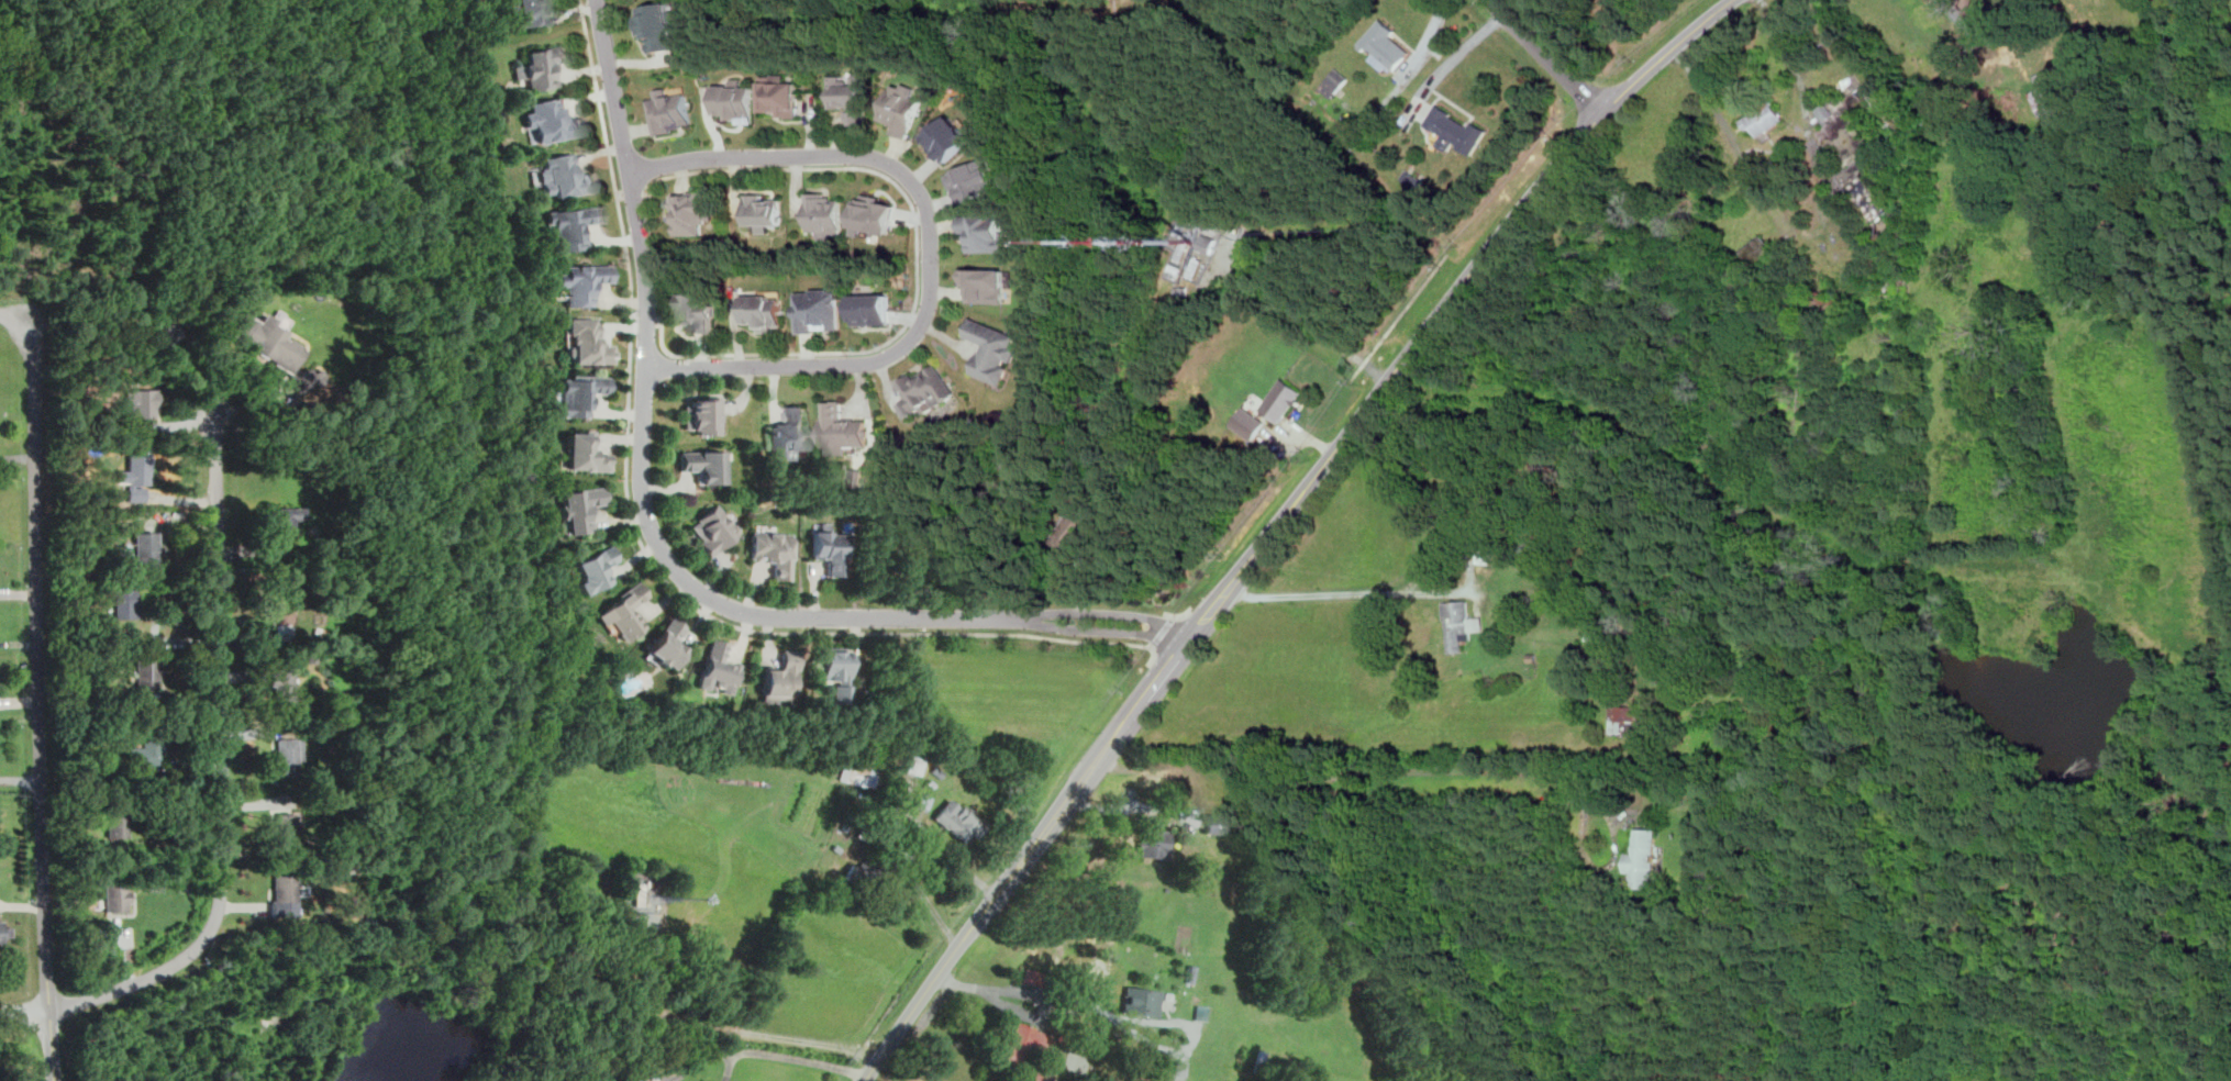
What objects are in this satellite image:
building: (525, 12)
building: (659, 25)
road: (1995, 40)
building: (1384, 46)
road: (1547, 58)
road: (1450, 59)
building: (542, 66)
road: (1401, 79)
building: (1334, 81)
building: (779, 94)
building: (2050, 94)
building: (850, 96)
building: (736, 100)
building: (901, 109)
building: (671, 111)
building: (1764, 119)
building: (552, 121)
building: (1454, 130)
building: (947, 138)
building: (1854, 163)
building: (564, 177)
building: (974, 179)
road: (634, 190)
road: (622, 192)
road: (147, 201)
building: (691, 212)
building: (763, 212)
building: (824, 214)
building: (873, 214)
building: (571, 225)
building: (986, 233)
building: (1208, 243)
building: (1184, 249)
road: (932, 250)
building: (1760, 250)
road: (919, 264)
road: (1189, 266)
building: (1198, 267)
building: (1176, 270)
building: (582, 282)
building: (985, 285)
building: (1184, 291)
street lamp: (14, 296)
road: (2, 304)
building: (872, 309)
building: (819, 310)
building: (765, 311)
building: (699, 312)
road: (634, 313)
road: (646, 315)
road: (1305, 317)
road: (1397, 317)
road: (22, 319)
building: (167, 333)
building: (586, 343)
building: (274, 347)
building: (992, 350)
building: (926, 389)
building: (578, 393)
building: (1280, 400)
building: (142, 404)
building: (701, 415)
building: (1247, 423)
building: (841, 430)
building: (789, 435)
building: (582, 454)
road: (643, 459)
building: (704, 466)
building: (140, 468)
building: (579, 508)
building: (1457, 511)
building: (284, 520)
road: (1279, 523)
building: (1077, 527)
building: (713, 528)
street lamp: (16, 544)
building: (146, 547)
building: (348, 548)
building: (829, 548)
road: (644, 550)
building: (773, 551)
building: (592, 569)
road: (1409, 591)
building: (125, 603)
building: (623, 612)
road: (1105, 613)
building: (282, 614)
road: (1181, 614)
road: (1175, 616)
building: (1461, 622)
road: (1098, 628)
road: (1163, 632)
building: (1588, 636)
building: (667, 644)
building: (1531, 656)
building: (311, 657)
street lamp: (16, 664)
building: (719, 667)
building: (835, 672)
building: (145, 677)
building: (780, 678)
building: (282, 684)
road: (38, 710)
building: (1629, 720)
street lamp: (19, 725)
building: (148, 747)
building: (288, 756)
building: (914, 764)
road: (224, 767)
road: (1425, 769)
building: (861, 776)
road: (20, 779)
building: (116, 816)
building: (958, 820)
building: (1217, 823)
building: (287, 825)
building: (1156, 843)
building: (1635, 857)
building: (637, 893)
building: (286, 894)
building: (115, 895)
building: (352, 903)
building: (1, 930)
building: (1190, 973)
building: (1035, 977)
building: (1143, 1001)
road: (1017, 1008)
road: (24, 1012)
building: (1201, 1012)
road: (1112, 1014)
street lamp: (35, 1026)
road: (723, 1027)
building: (1022, 1044)
road: (804, 1058)
road: (701, 1060)
road: (729, 1062)
building: (1180, 1068)
building: (1044, 1077)
building: (634, 1080)

